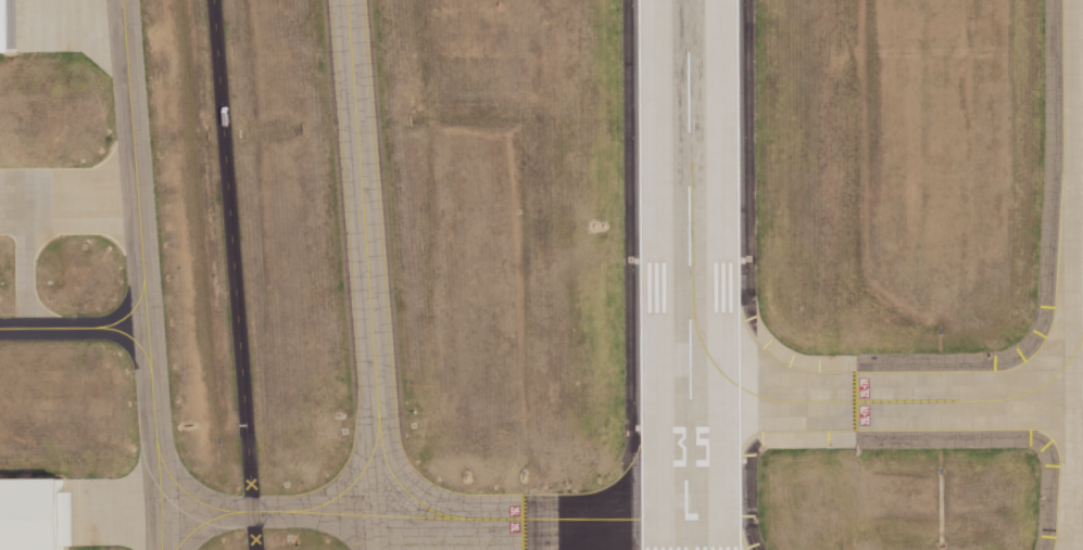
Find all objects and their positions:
building: (8, 26)
airport apron: (56, 216)
road: (234, 274)
airport: (541, 274)
airport runway: (688, 274)
airport taxiway: (366, 279)
airport taxiway: (72, 328)
airport taxiway: (868, 401)
airport taxiway: (353, 481)
airport taxiway: (187, 495)
building: (30, 513)
airport taxiway: (160, 536)

